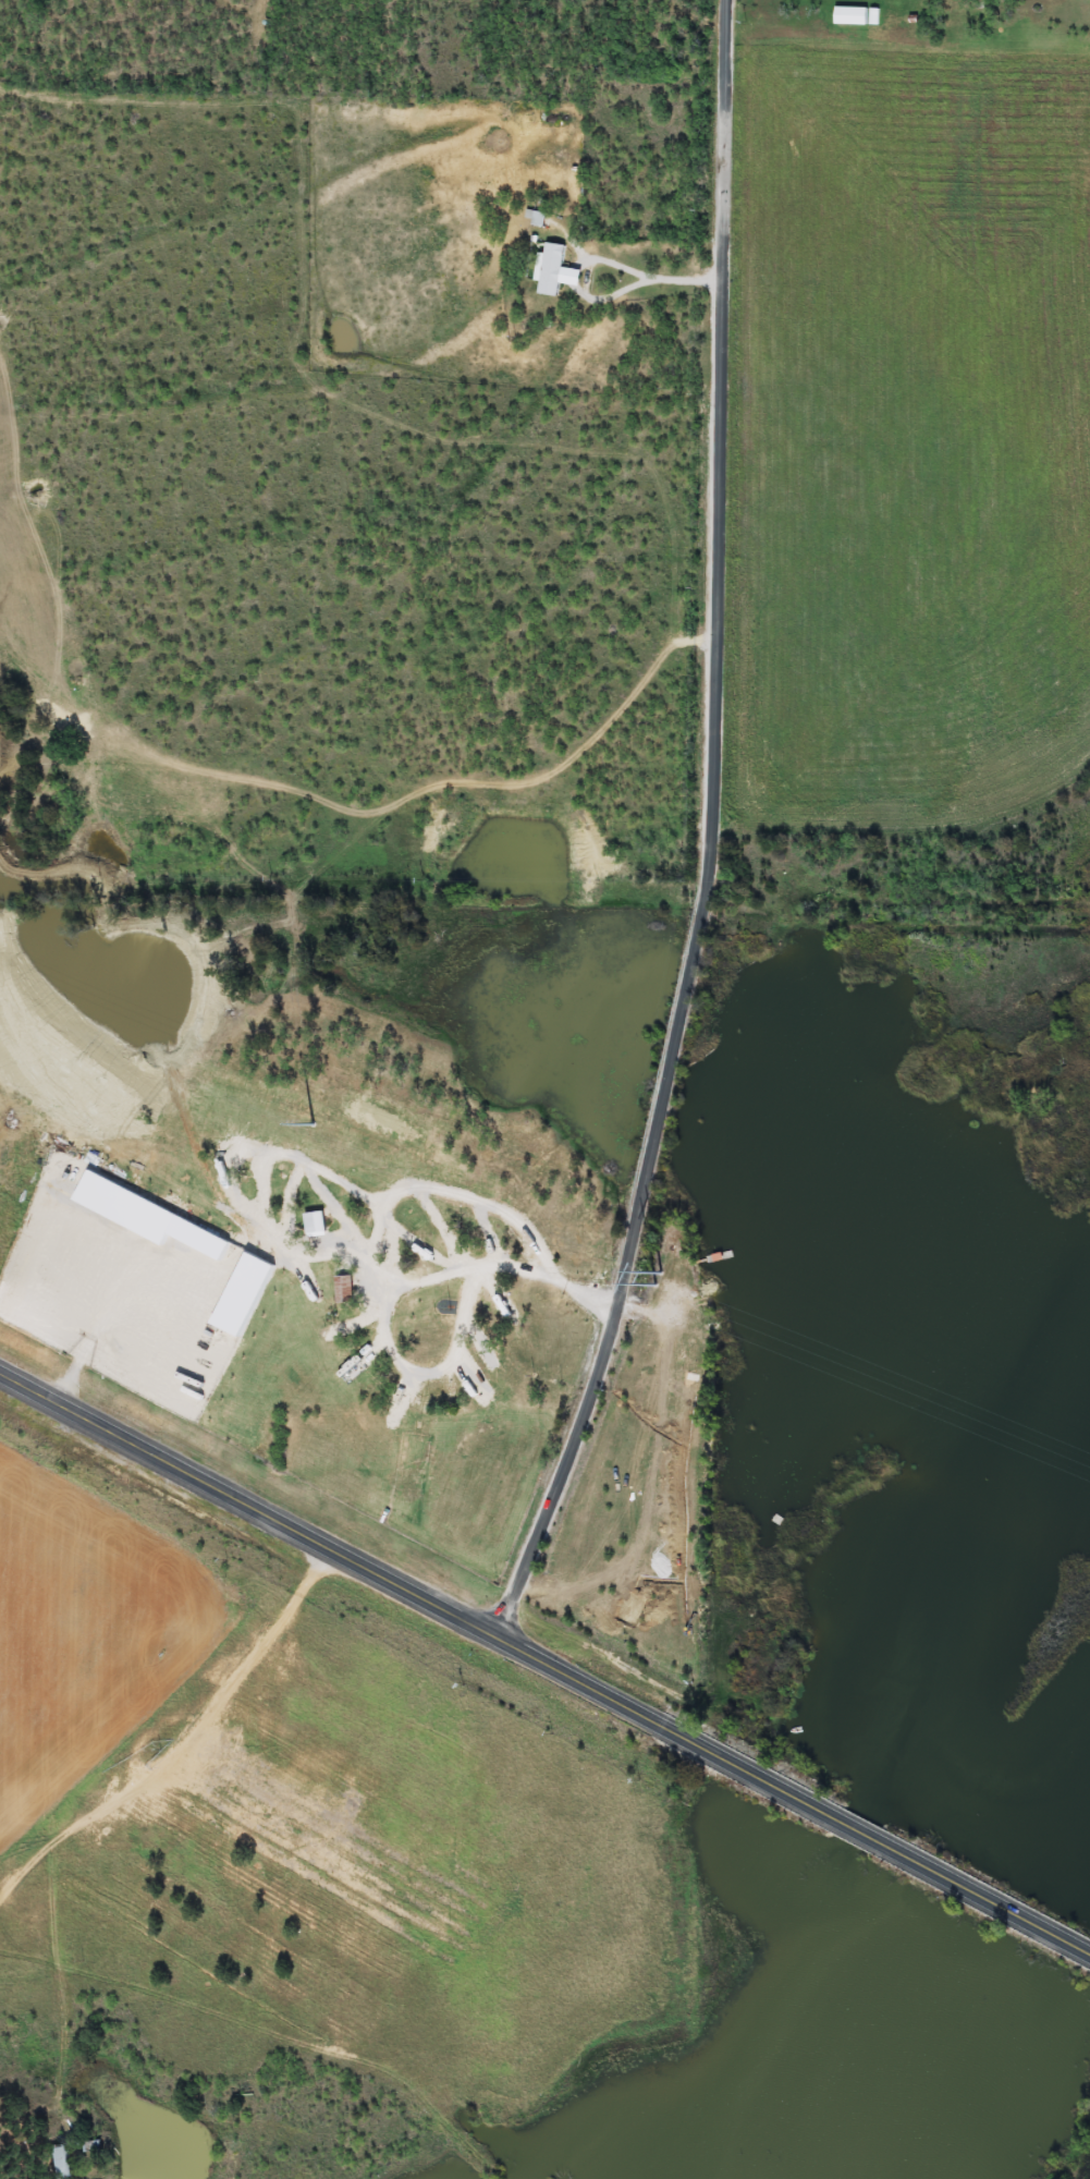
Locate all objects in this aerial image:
building: (854, 17)
building: (538, 219)
building: (556, 272)
road: (709, 835)
building: (318, 1224)
building: (450, 1242)
building: (350, 1290)
building: (483, 1299)
road: (544, 1664)
building: (95, 2148)
building: (60, 2162)

